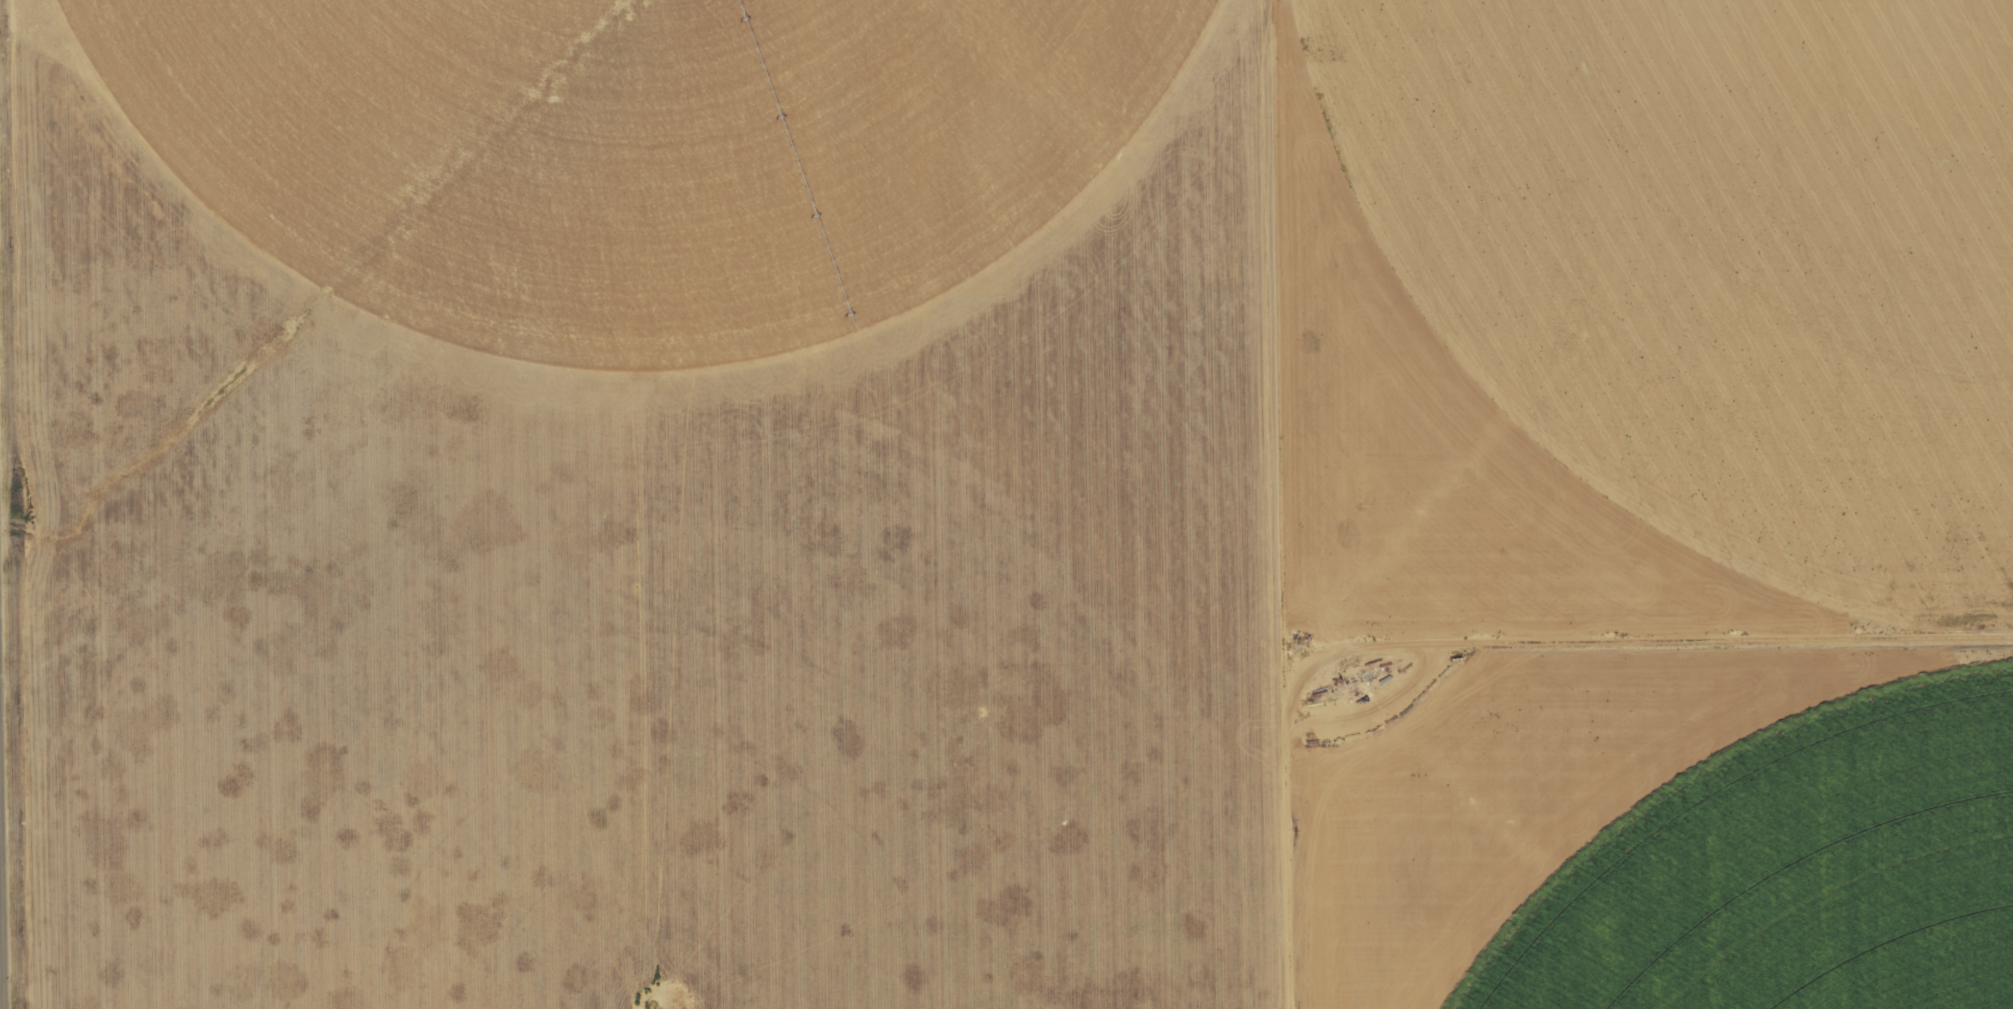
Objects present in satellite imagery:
road: (1484, 664)

